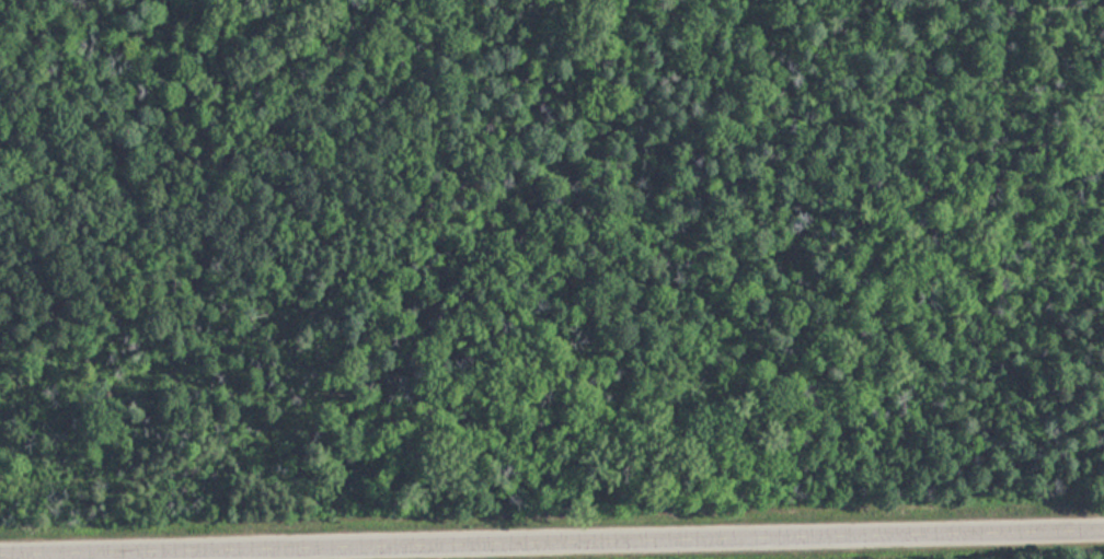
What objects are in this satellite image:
park: (552, 279)
road: (576, 546)

